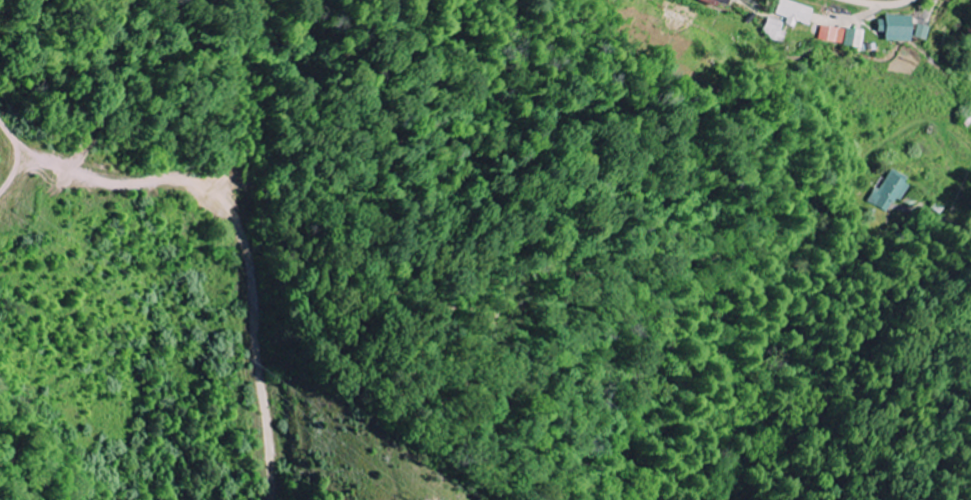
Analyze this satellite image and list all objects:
building: (730, 1)
road: (882, 5)
building: (790, 18)
building: (903, 29)
building: (925, 32)
building: (834, 34)
building: (857, 38)
building: (891, 192)
road: (947, 219)
road: (119, 305)

